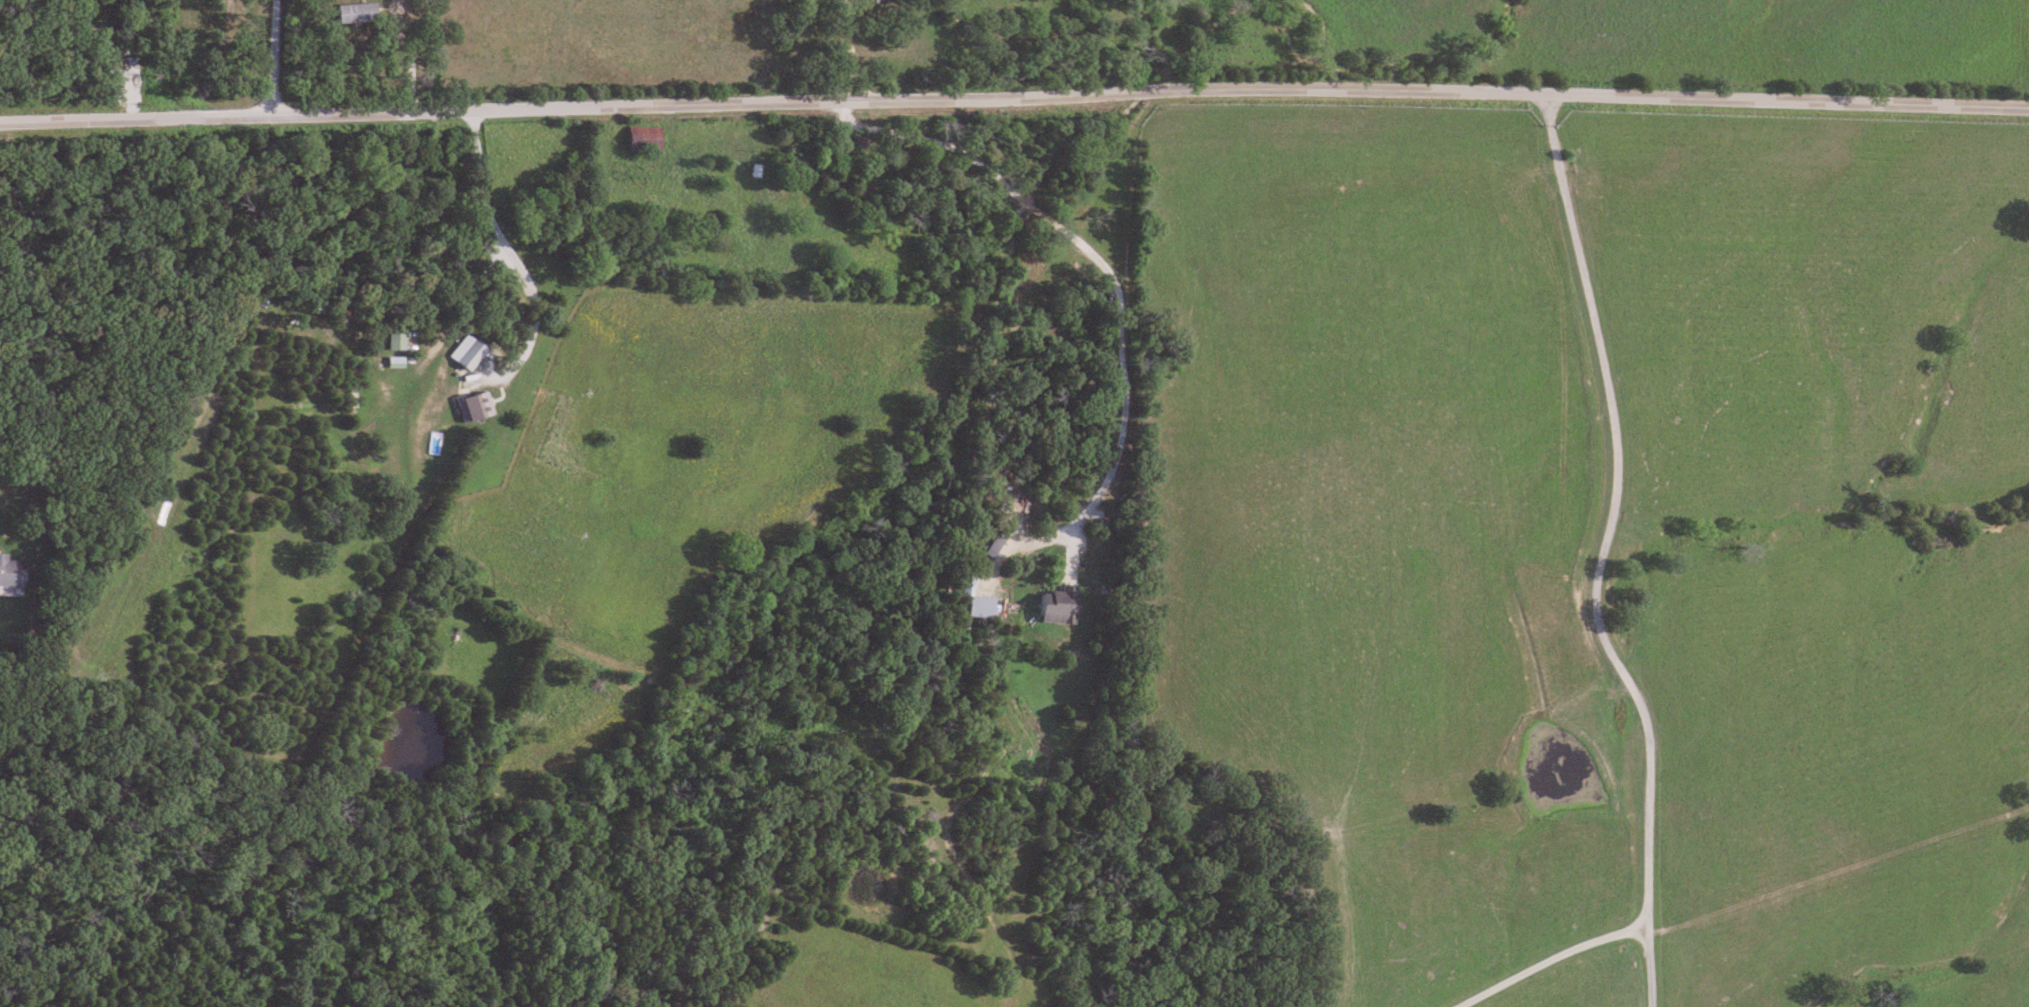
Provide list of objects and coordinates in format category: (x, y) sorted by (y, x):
building: (877, 1)
building: (354, 12)
road: (851, 50)
road: (276, 57)
road: (1014, 96)
building: (641, 138)
building: (754, 170)
road: (513, 253)
road: (1112, 273)
building: (393, 338)
building: (470, 353)
building: (472, 406)
road: (1609, 550)
building: (10, 572)
building: (975, 606)
building: (1056, 606)
road: (1560, 959)

